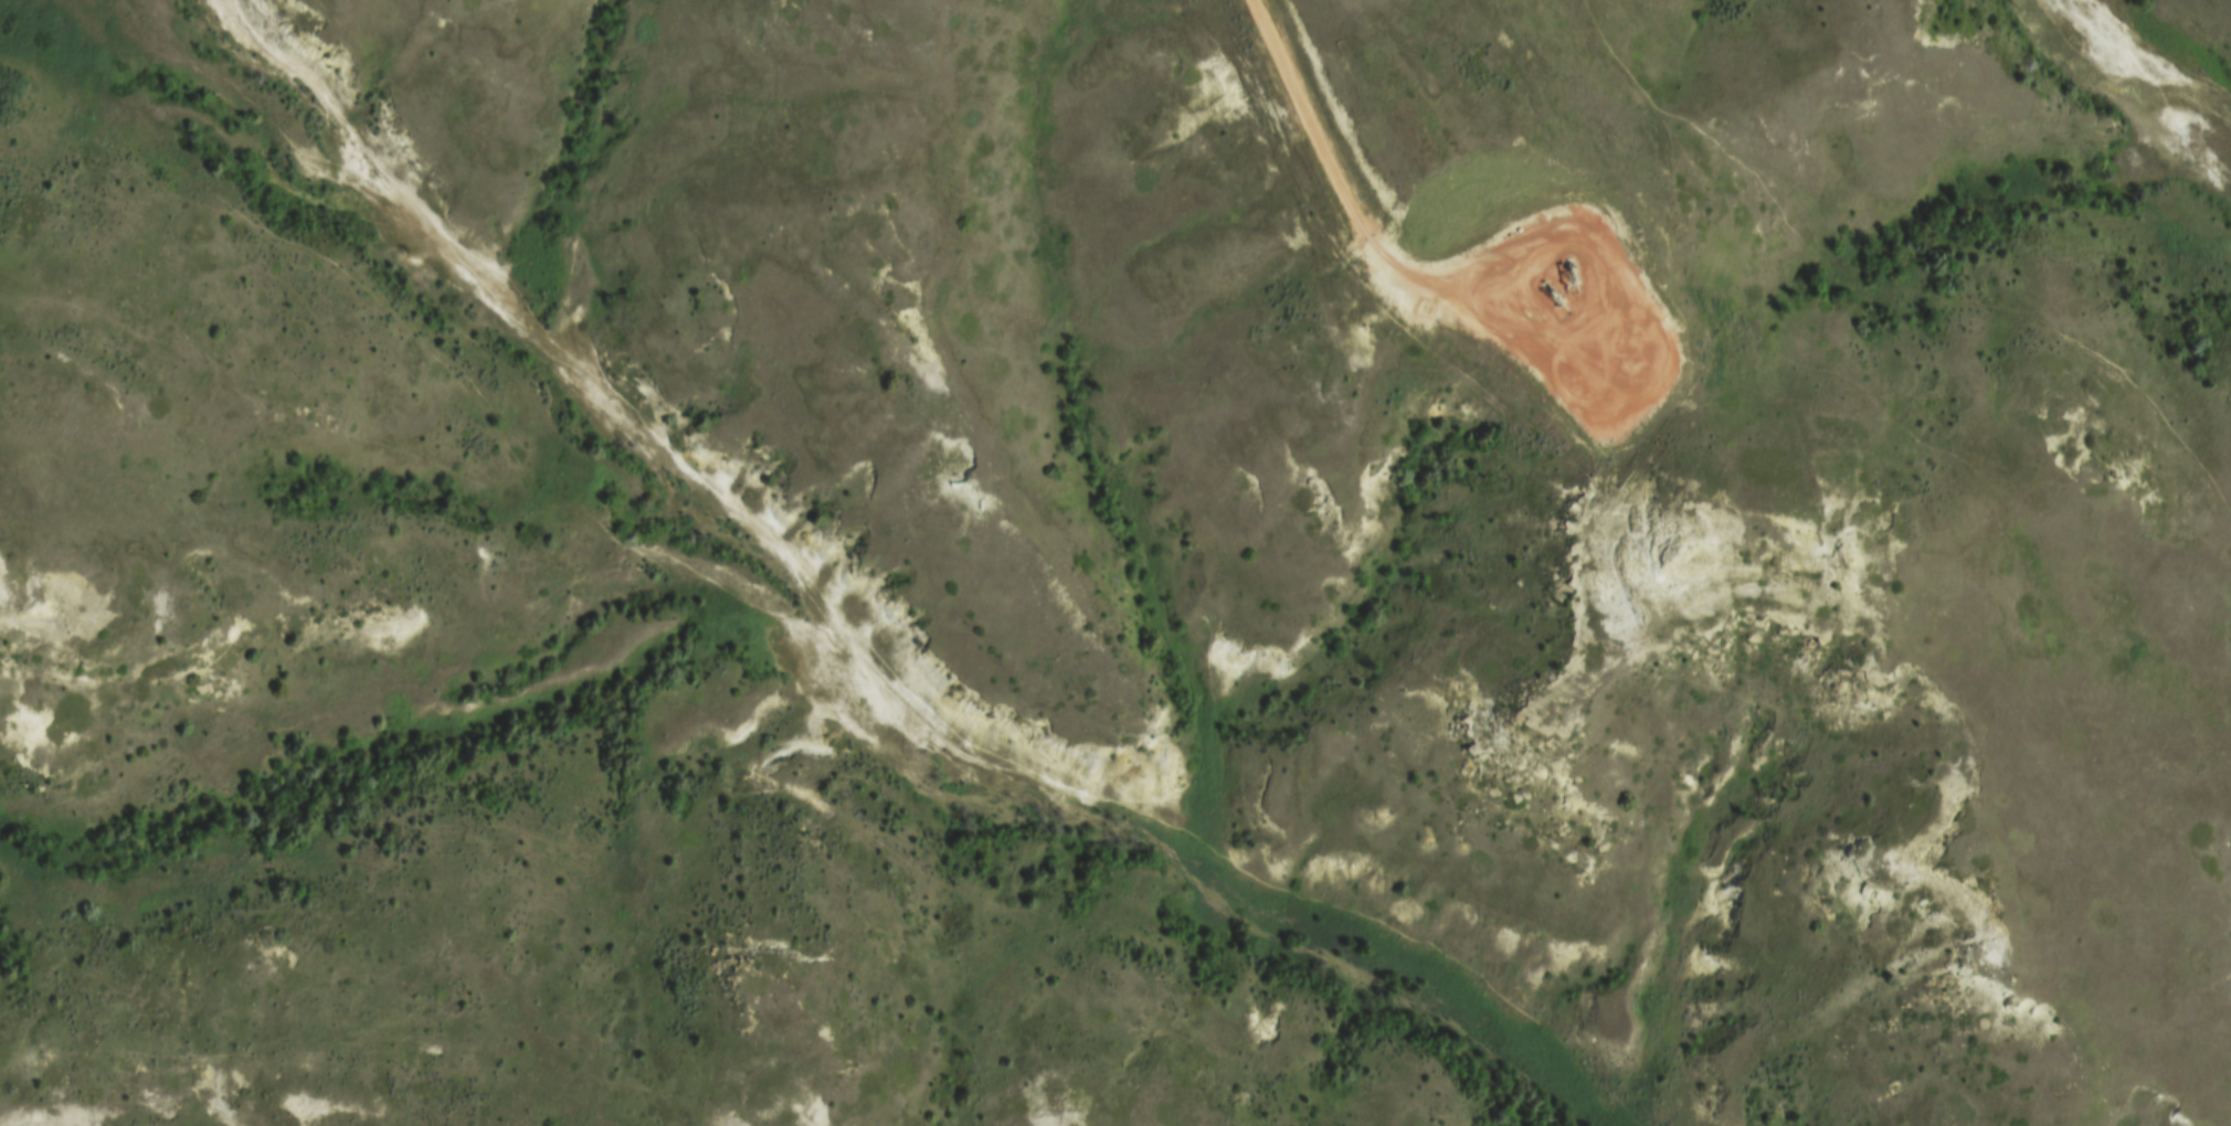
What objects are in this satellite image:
road: (1366, 229)

